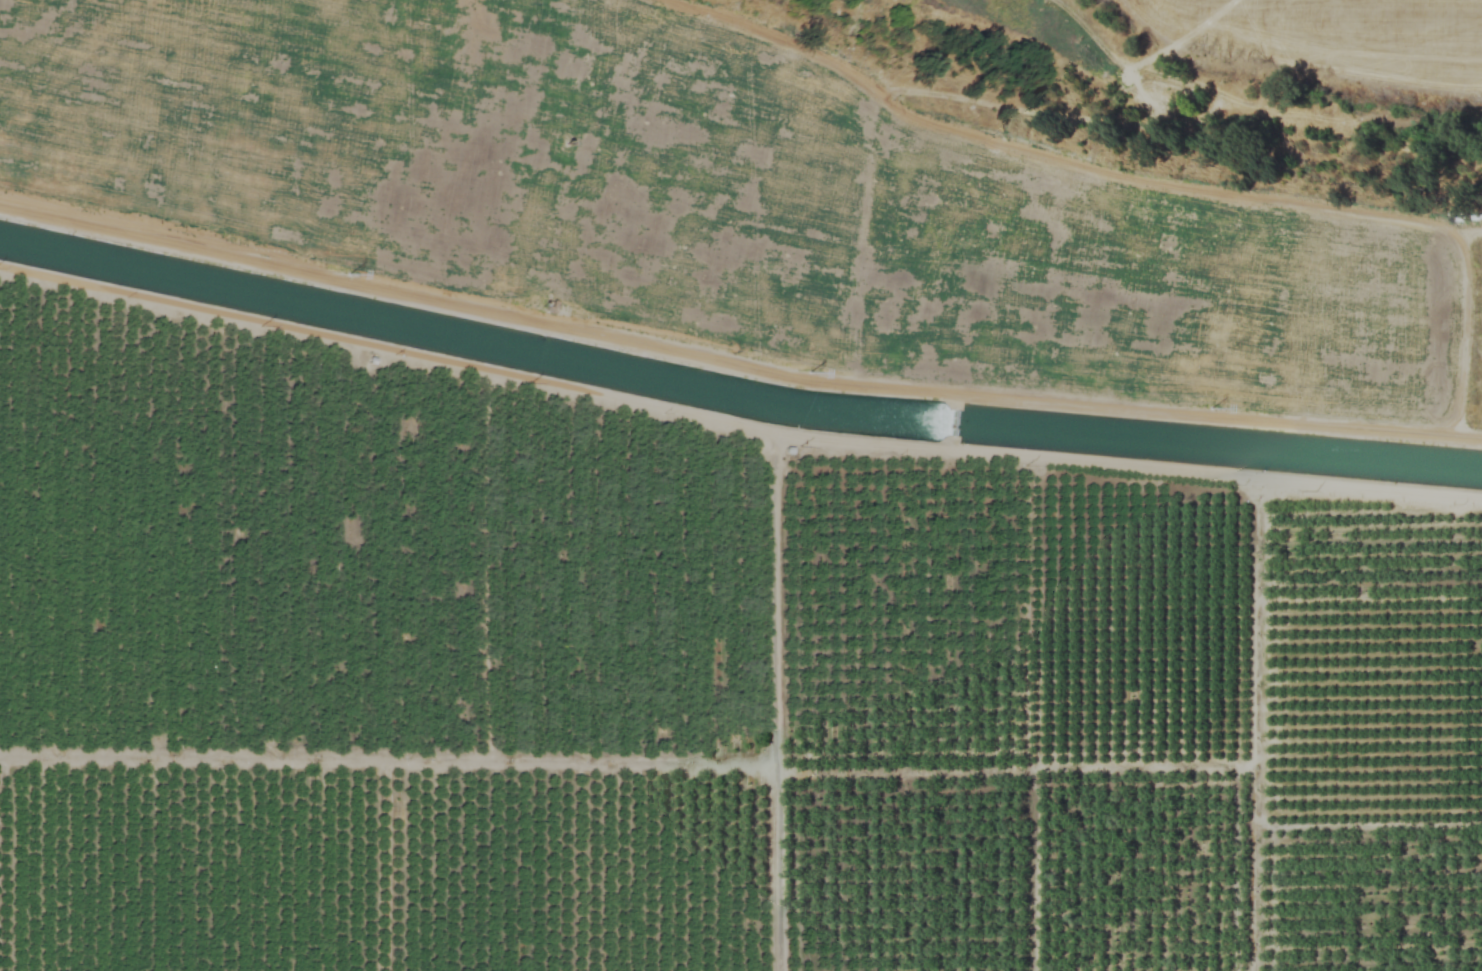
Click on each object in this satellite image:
crop: (1321, 47)
crop: (1037, 139)

